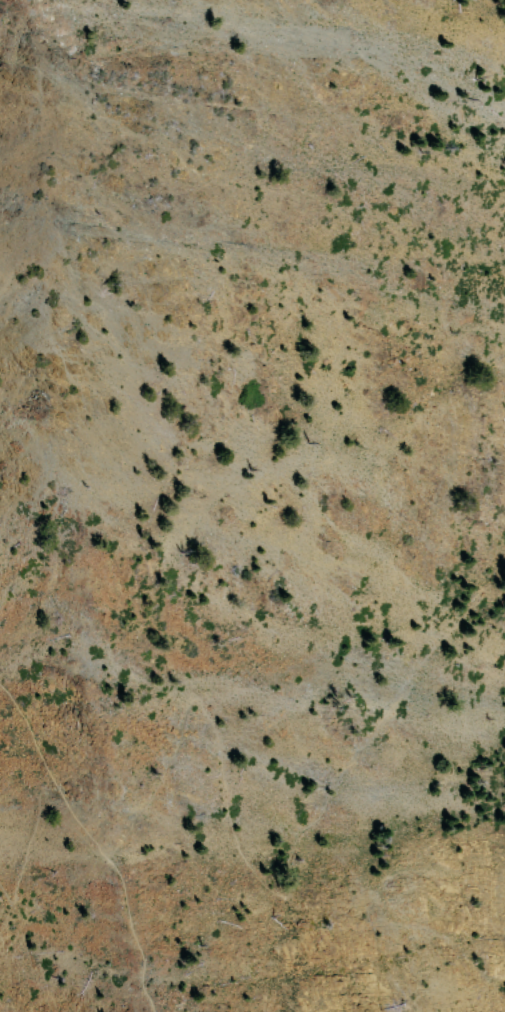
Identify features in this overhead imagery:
road: (29, 707)
road: (72, 821)
road: (30, 850)
road: (270, 898)
road: (125, 941)

